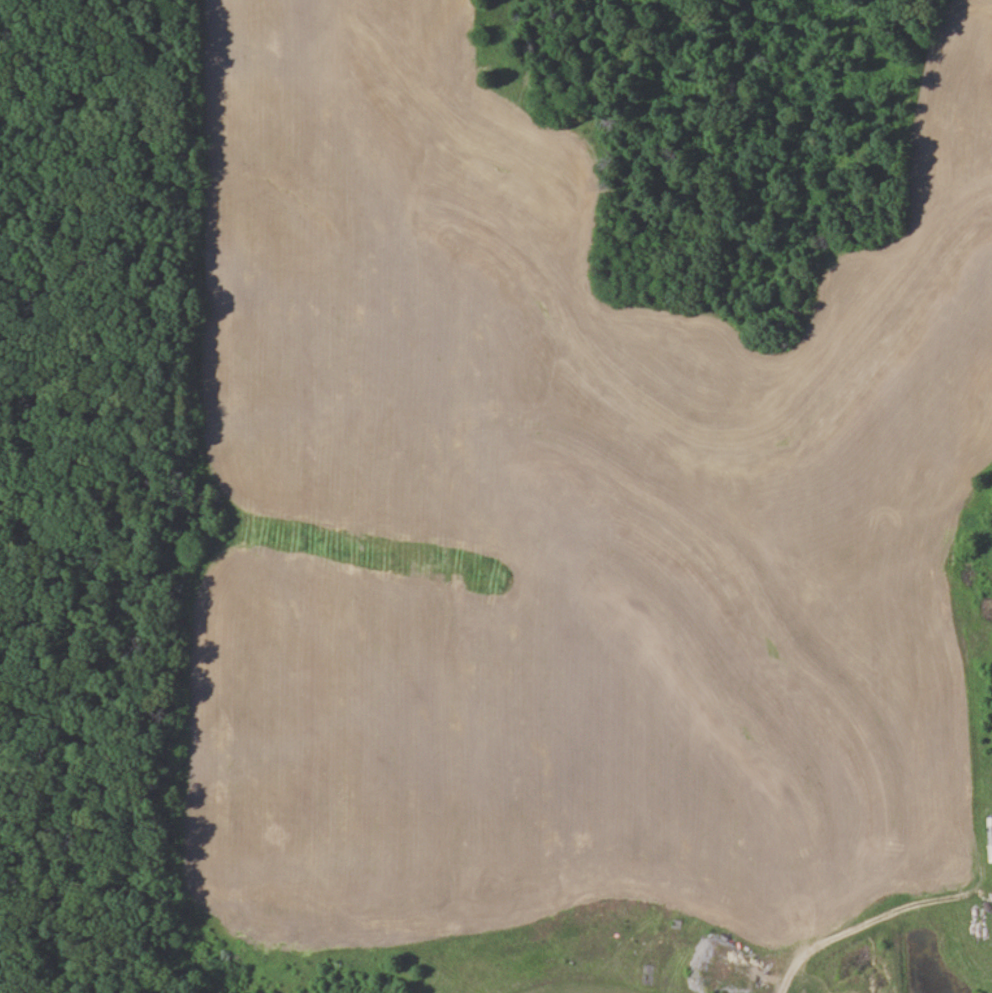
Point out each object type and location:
building: (989, 838)
road: (856, 923)

